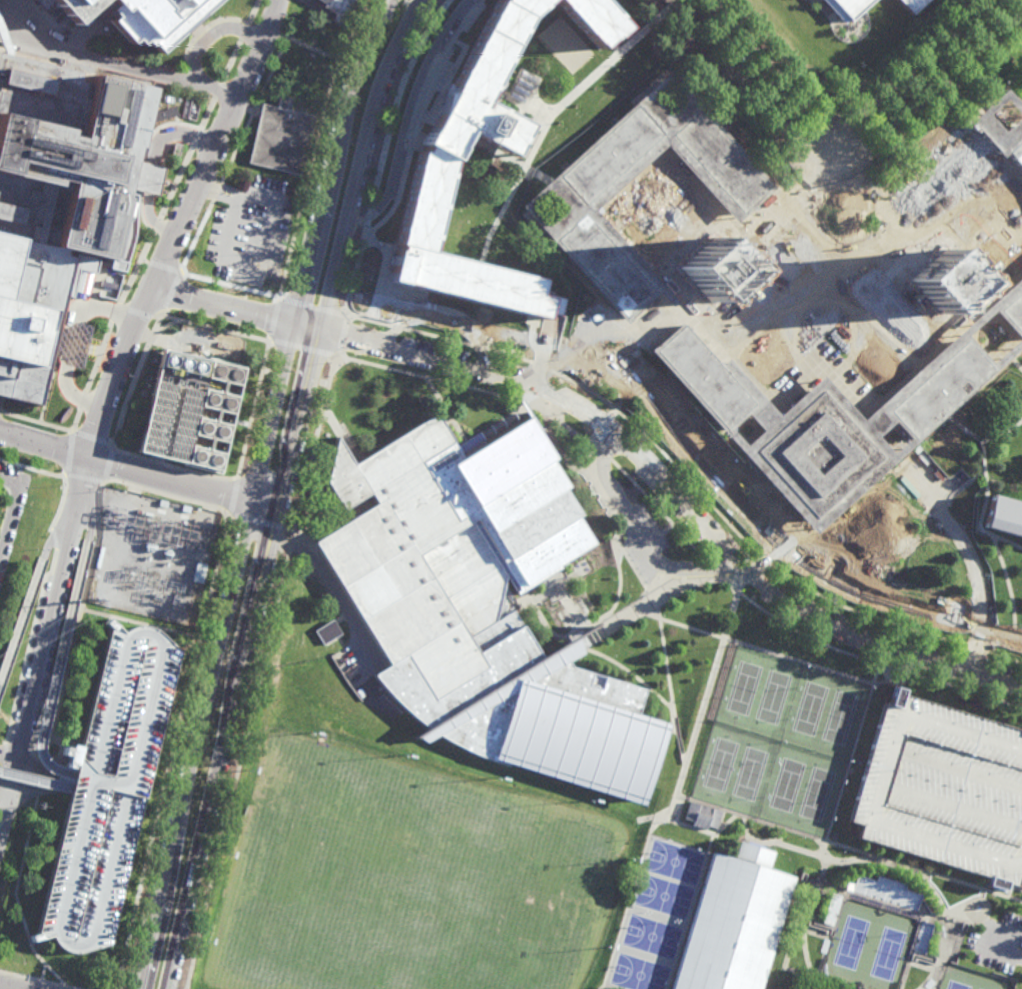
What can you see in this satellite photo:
building: (2, 1)
building: (914, 4)
building: (340, 8)
building: (851, 8)
building: (91, 9)
building: (166, 19)
building: (594, 20)
road: (351, 29)
road: (268, 30)
road: (211, 34)
road: (7, 35)
road: (420, 42)
road: (313, 49)
road: (743, 60)
road: (118, 66)
road: (370, 74)
road: (900, 79)
road: (781, 80)
road: (751, 90)
road: (927, 95)
road: (554, 111)
road: (406, 118)
building: (281, 137)
road: (233, 155)
building: (438, 157)
road: (363, 161)
road: (152, 163)
building: (964, 163)
road: (405, 169)
building: (148, 178)
road: (308, 179)
road: (219, 188)
building: (61, 200)
road: (939, 200)
road: (190, 203)
road: (160, 213)
road: (143, 261)
road: (263, 262)
road: (164, 267)
road: (933, 267)
building: (711, 269)
building: (942, 281)
road: (699, 282)
road: (230, 286)
road: (170, 294)
road: (652, 294)
road: (314, 306)
building: (1005, 306)
road: (102, 308)
road: (238, 309)
road: (274, 319)
road: (442, 320)
road: (165, 326)
road: (215, 330)
road: (342, 334)
road: (70, 342)
road: (479, 346)
building: (79, 347)
road: (303, 348)
road: (133, 379)
road: (73, 394)
road: (254, 409)
road: (0, 410)
building: (195, 411)
road: (99, 414)
road: (550, 416)
road: (510, 417)
road: (36, 421)
road: (93, 437)
road: (980, 437)
road: (91, 438)
road: (896, 450)
road: (70, 454)
road: (602, 455)
road: (107, 462)
road: (173, 466)
road: (33, 467)
road: (140, 470)
road: (83, 479)
road: (255, 491)
road: (167, 493)
road: (233, 496)
road: (678, 496)
building: (526, 503)
road: (985, 506)
road: (12, 509)
road: (89, 509)
road: (658, 510)
building: (1005, 513)
road: (63, 518)
road: (261, 523)
road: (637, 533)
building: (418, 554)
power substation: (154, 557)
road: (714, 568)
road: (975, 571)
road: (752, 573)
road: (321, 576)
road: (554, 580)
road: (618, 593)
power tower: (100, 598)
road: (657, 599)
road: (530, 601)
road: (1013, 602)
road: (80, 606)
road: (571, 613)
road: (22, 622)
road: (546, 624)
road: (890, 624)
road: (677, 626)
building: (327, 632)
road: (1018, 632)
road: (44, 645)
road: (246, 659)
road: (61, 661)
road: (799, 662)
road: (874, 662)
road: (260, 672)
road: (630, 673)
road: (670, 682)
park: (743, 687)
park: (772, 696)
park: (810, 708)
building: (536, 713)
park: (839, 717)
road: (49, 748)
road: (171, 752)
road: (849, 761)
road: (7, 763)
park: (719, 764)
park: (749, 773)
road: (40, 774)
building: (22, 777)
road: (31, 778)
road: (41, 781)
park: (786, 785)
building: (945, 791)
parking garage: (945, 791)
building: (100, 792)
parking garage: (100, 792)
road: (677, 794)
park: (816, 794)
road: (680, 801)
building: (702, 816)
road: (728, 822)
road: (745, 830)
road: (1, 839)
road: (772, 839)
road: (838, 845)
road: (823, 859)
park: (675, 861)
park: (406, 877)
building: (885, 893)
park: (664, 896)
road: (16, 897)
road: (971, 910)
road: (982, 914)
building: (734, 922)
road: (945, 924)
road: (812, 930)
park: (651, 936)
road: (804, 936)
building: (922, 938)
parking lot: (997, 940)
park: (850, 942)
building: (953, 945)
road: (1011, 948)
park: (887, 953)
road: (821, 957)
road: (911, 962)
road: (783, 963)
road: (43, 973)
park: (639, 973)
road: (36, 980)
road: (795, 981)
road: (822, 985)
park: (956, 985)

